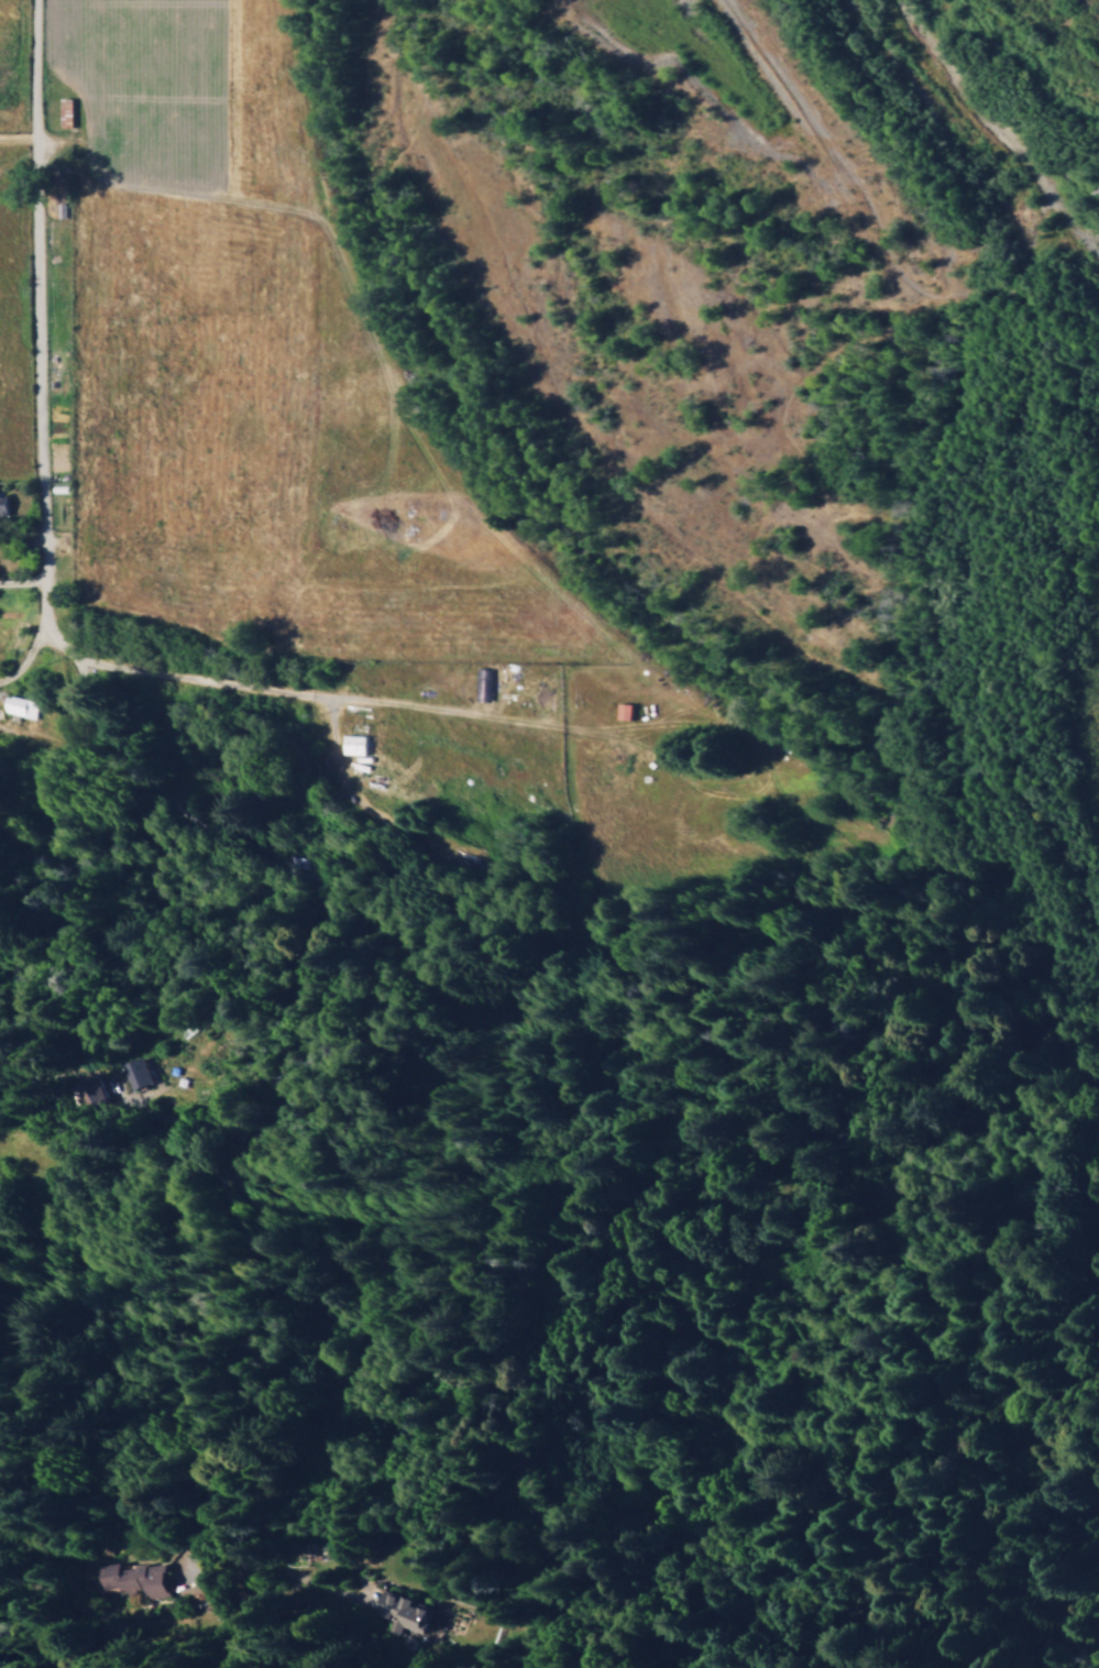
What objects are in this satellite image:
building: (3, 505)
road: (66, 648)
building: (22, 704)
building: (355, 744)
building: (130, 1576)
building: (407, 1612)

